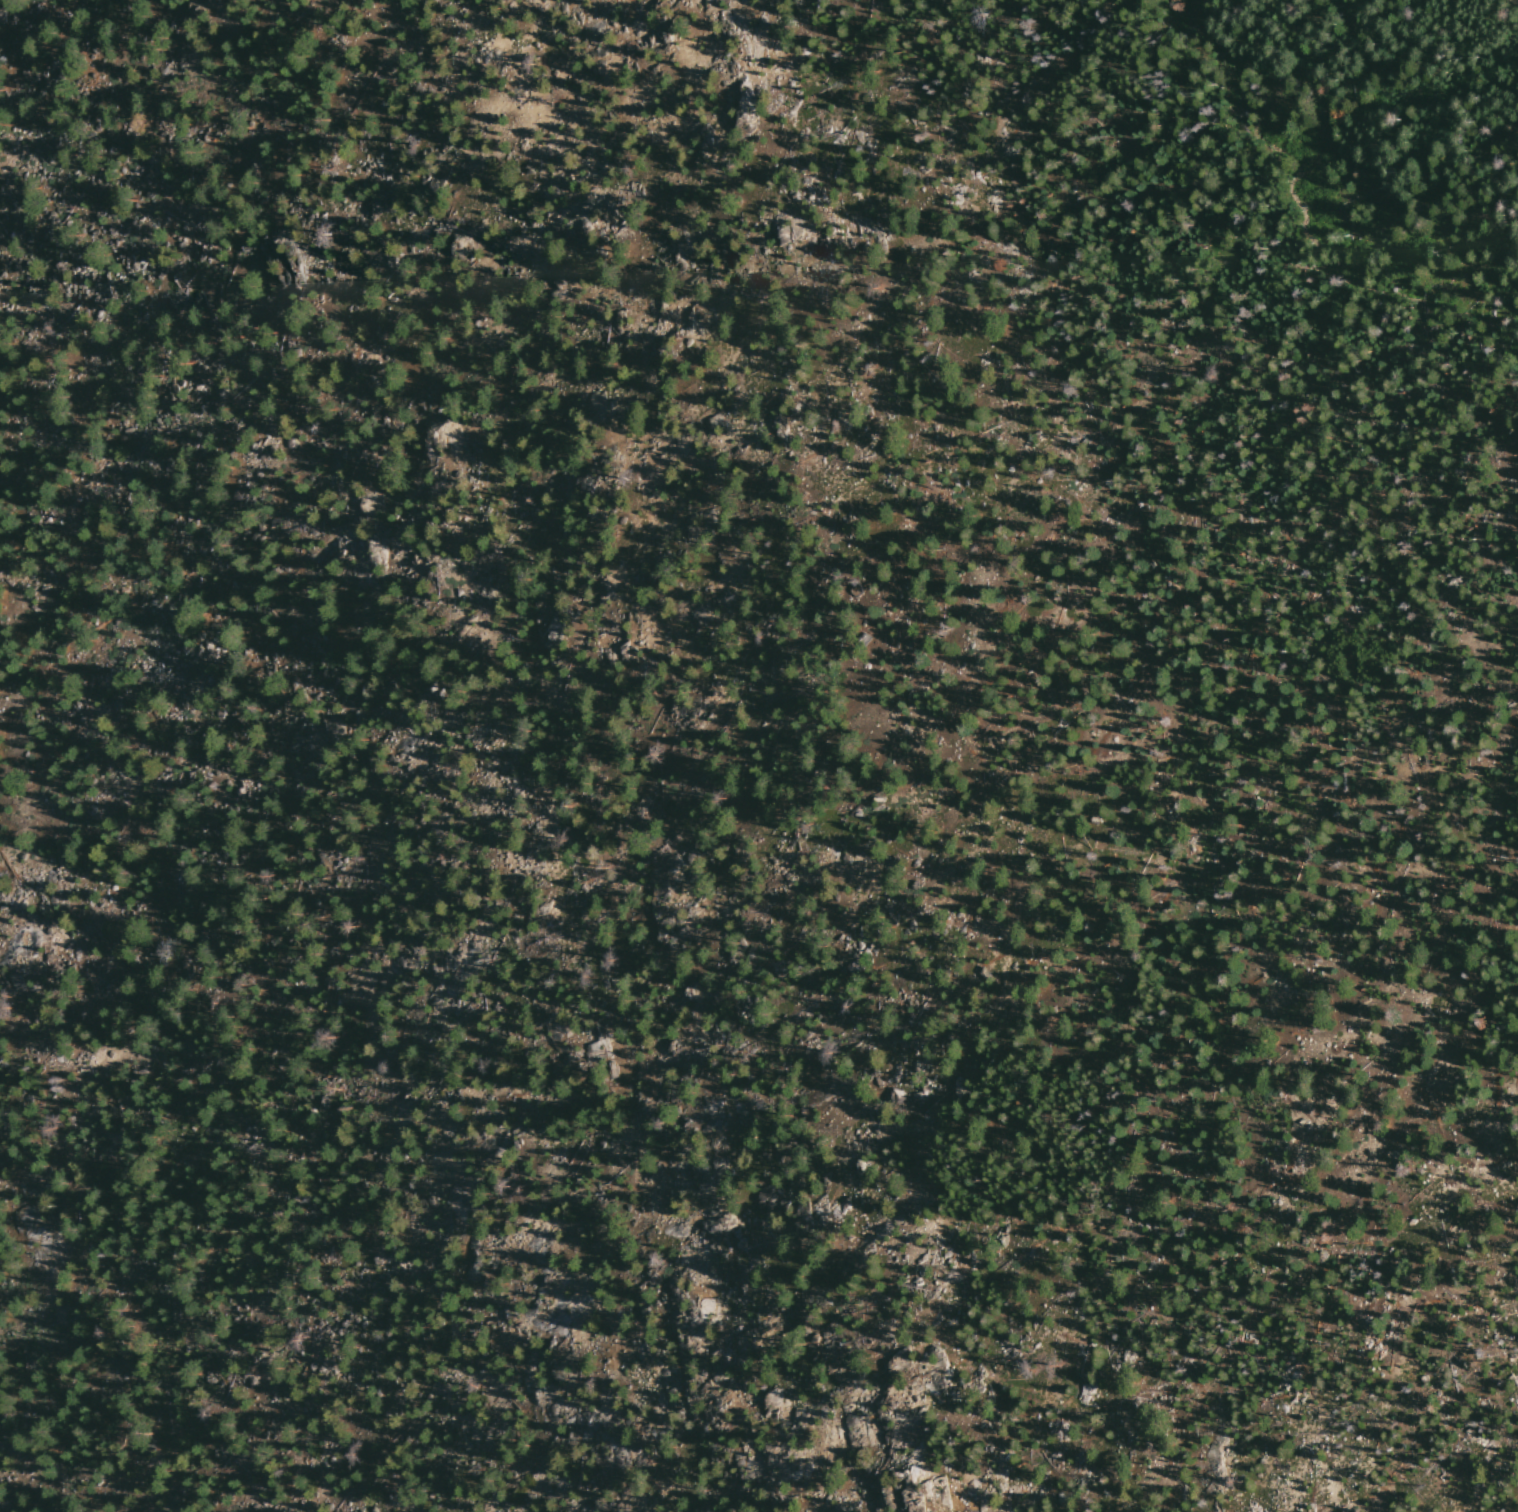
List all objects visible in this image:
road: (1516, 1)

